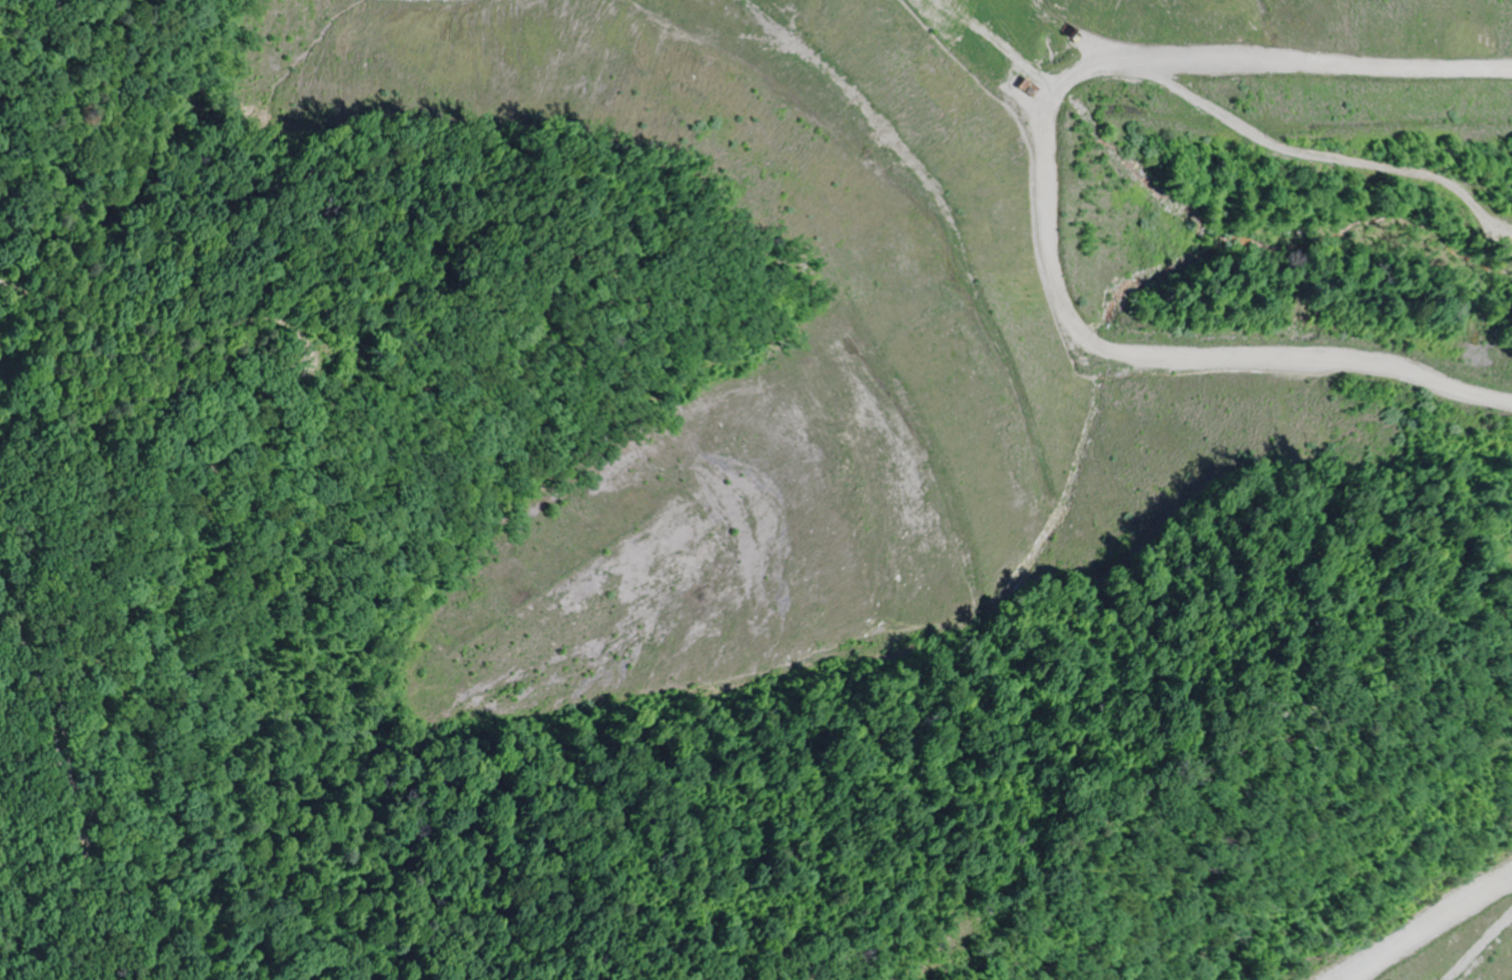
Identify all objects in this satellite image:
road: (23, 363)
road: (60, 756)
road: (1499, 973)

